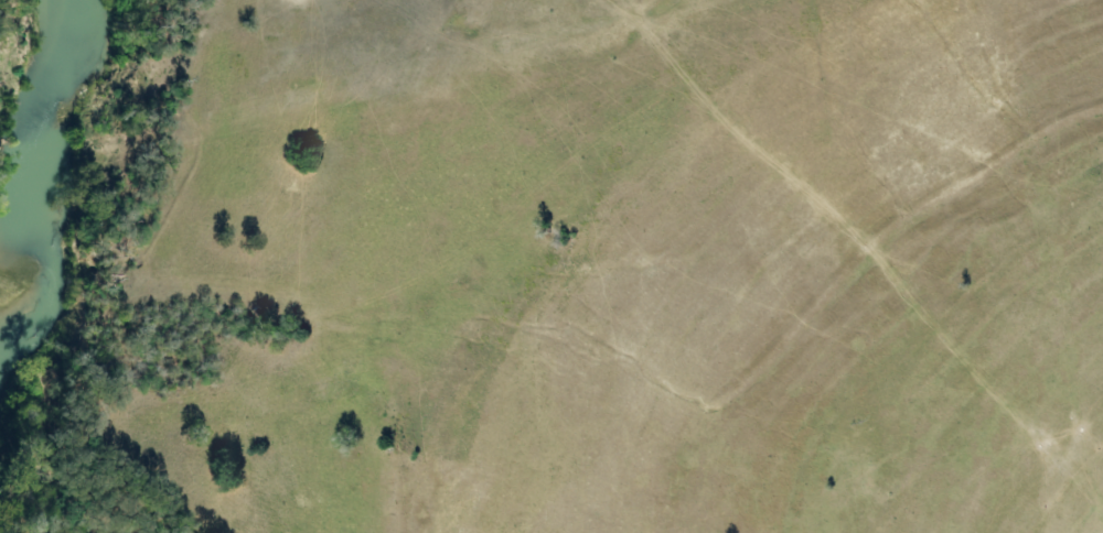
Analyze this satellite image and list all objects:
river: (50, 155)

